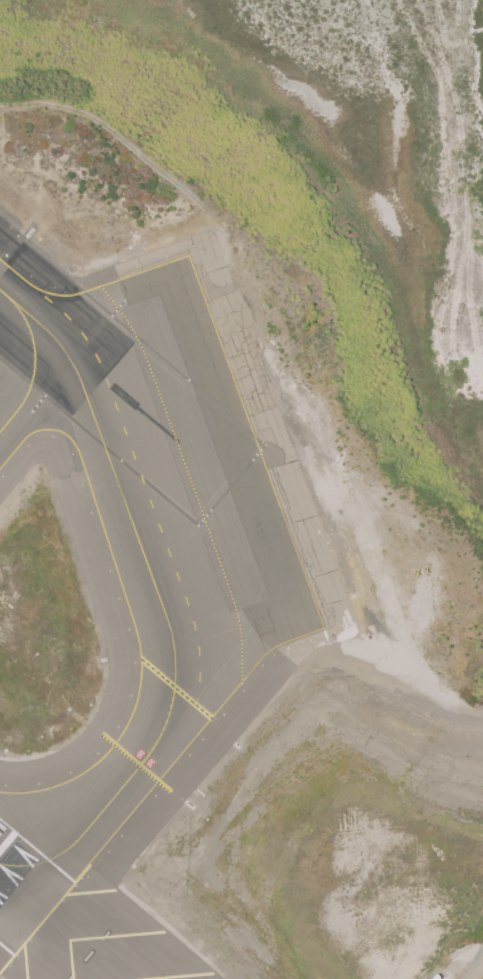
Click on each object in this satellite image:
airport taxiway: (31, 368)
airport taxiway: (104, 444)
airport: (241, 489)
airport taxiway: (127, 775)
airport runway: (21, 899)

